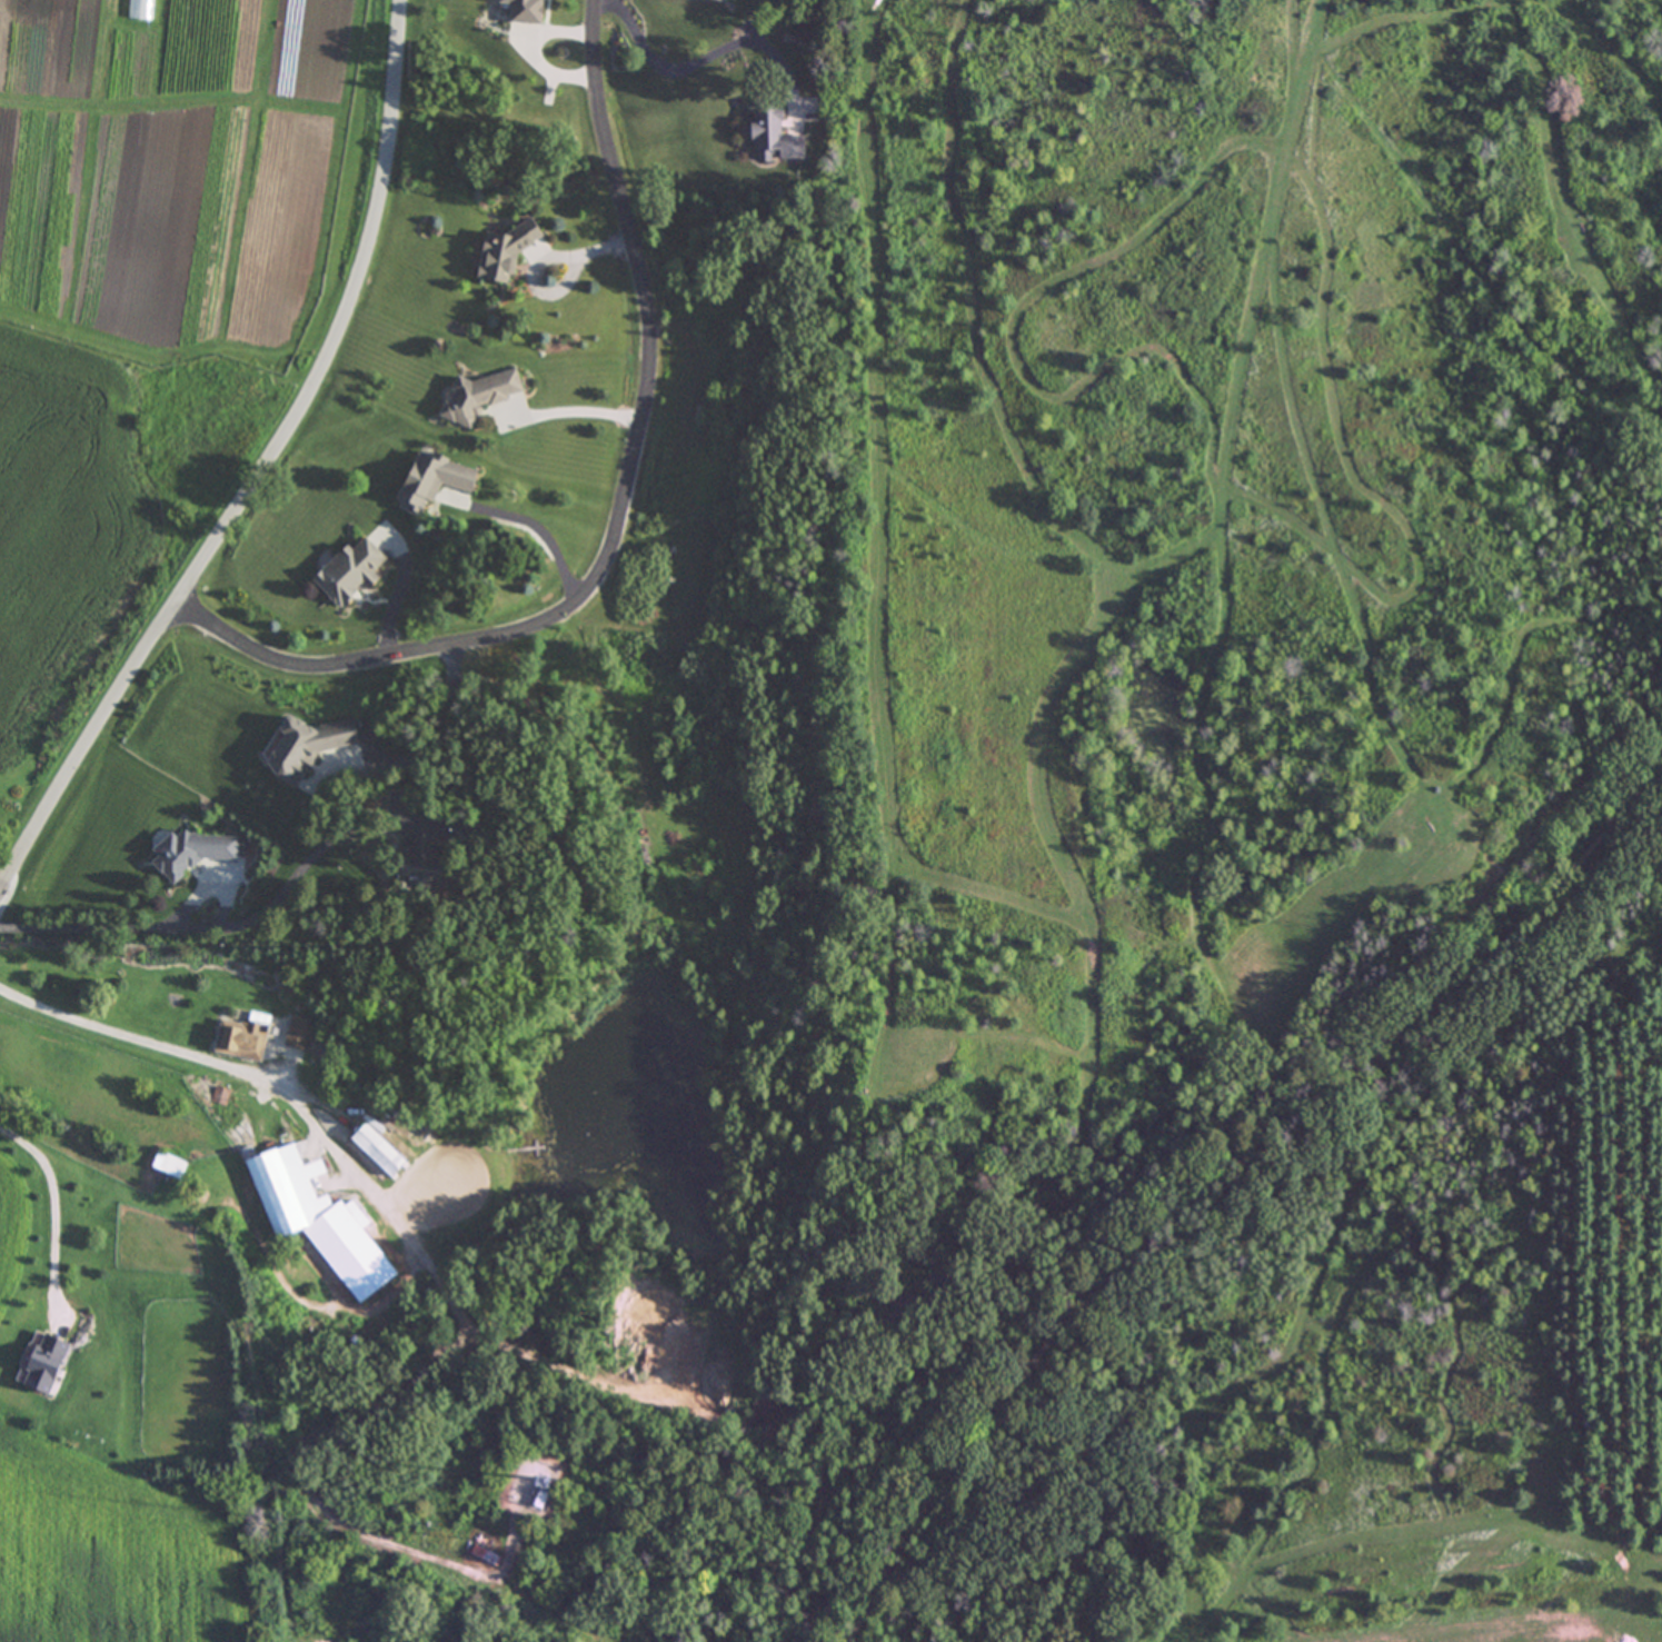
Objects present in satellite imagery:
building: (141, 10)
building: (520, 11)
road: (707, 53)
building: (772, 137)
building: (496, 252)
road: (549, 260)
building: (470, 397)
road: (585, 407)
road: (268, 475)
building: (426, 480)
road: (626, 502)
road: (540, 528)
building: (346, 573)
road: (444, 711)
building: (300, 747)
park: (1240, 836)
building: (185, 853)
building: (409, 857)
road: (125, 928)
building: (303, 1034)
road: (147, 1038)
building: (243, 1041)
building: (377, 1151)
road: (57, 1207)
building: (315, 1228)
building: (39, 1364)
building: (534, 1500)
building: (486, 1556)
park: (302, 1620)

